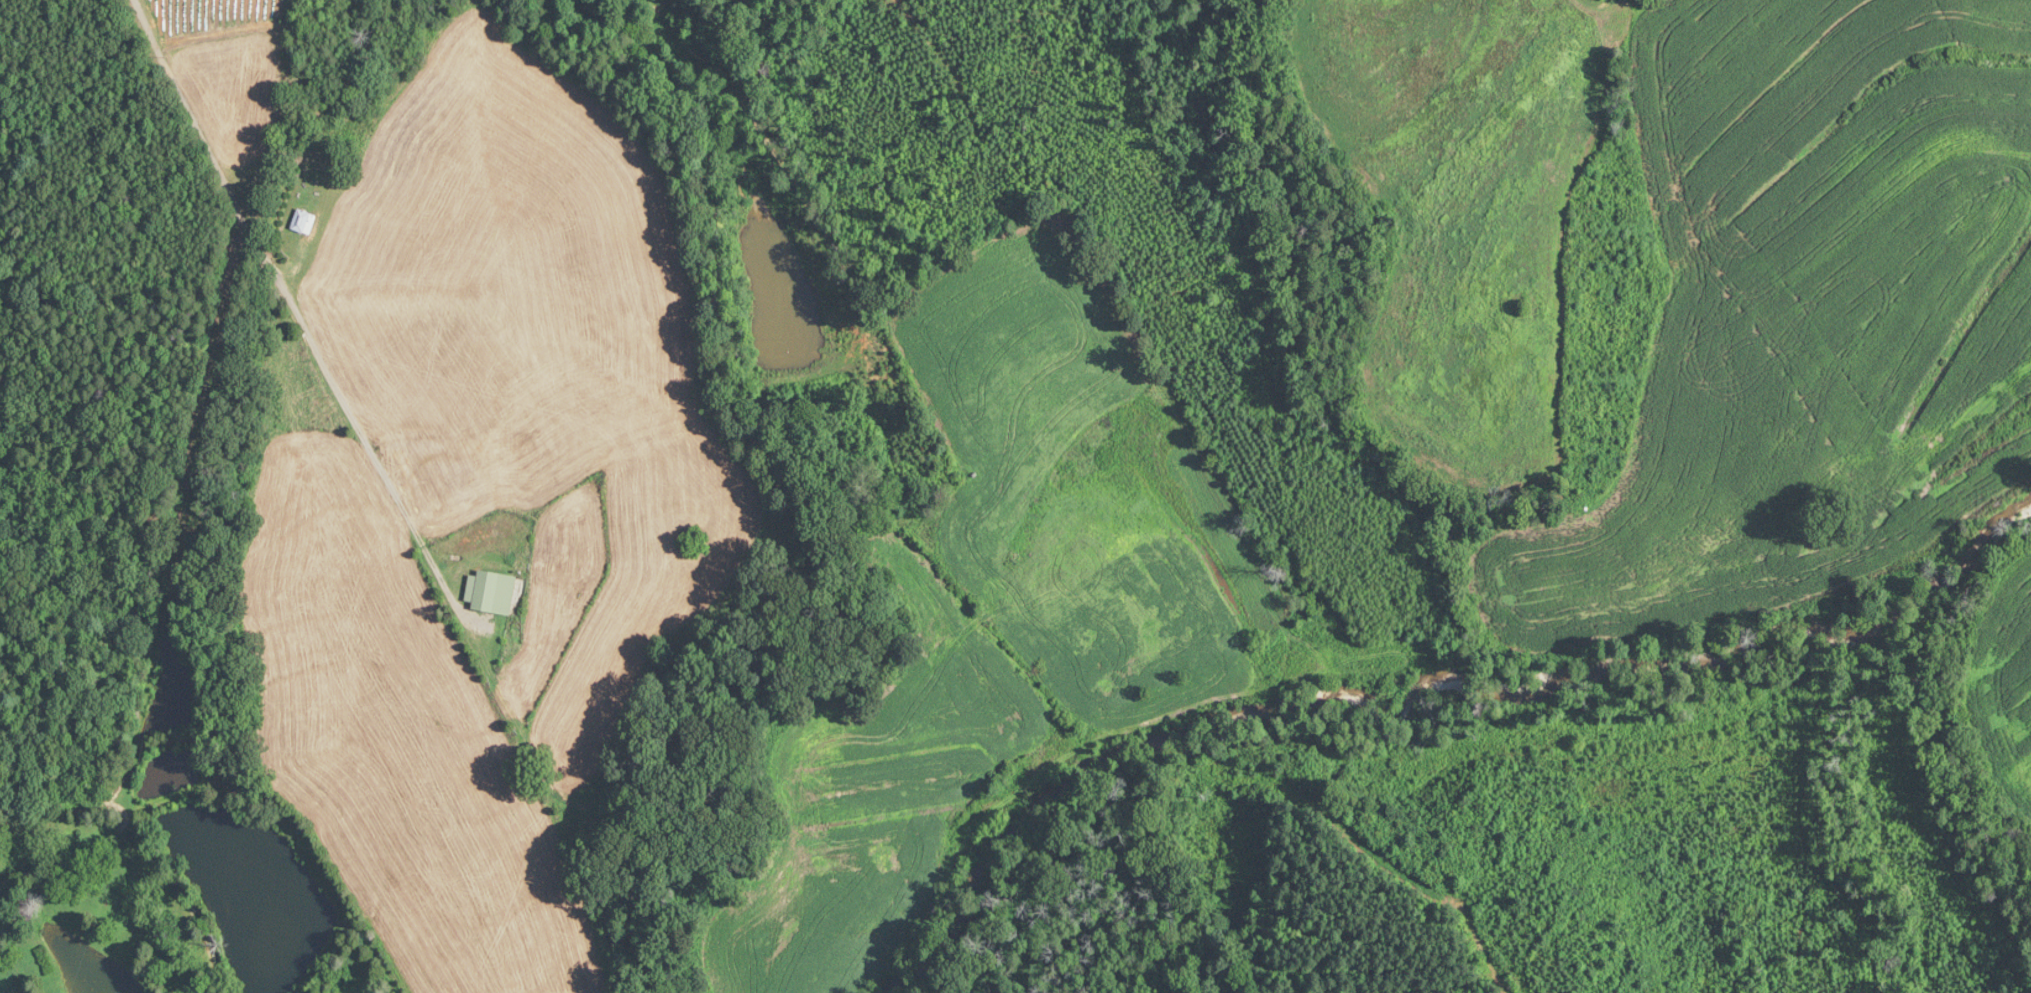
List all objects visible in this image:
building: (300, 220)
road: (293, 304)
building: (488, 591)
road: (57, 804)

